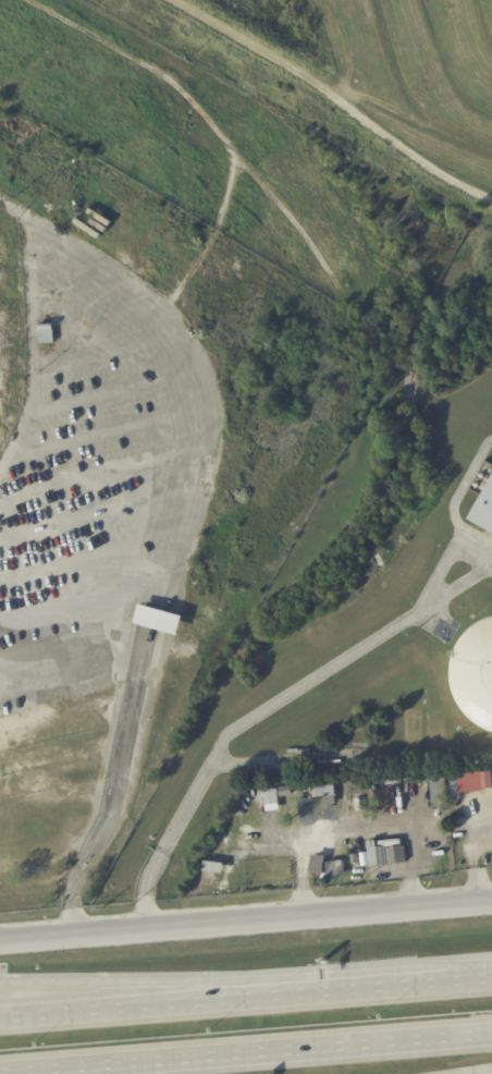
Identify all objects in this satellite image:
landfill: (371, 66)
road: (332, 98)
building: (48, 333)
landfill: (148, 411)
building: (485, 511)
building: (162, 621)
storage tank: (477, 672)
road: (318, 673)
building: (475, 781)
building: (454, 783)
road: (118, 794)
building: (271, 800)
road: (358, 829)
building: (385, 851)
road: (473, 858)
road: (246, 922)
road: (159, 979)
road: (405, 979)
road: (159, 999)
road: (256, 1054)
road: (480, 1072)

